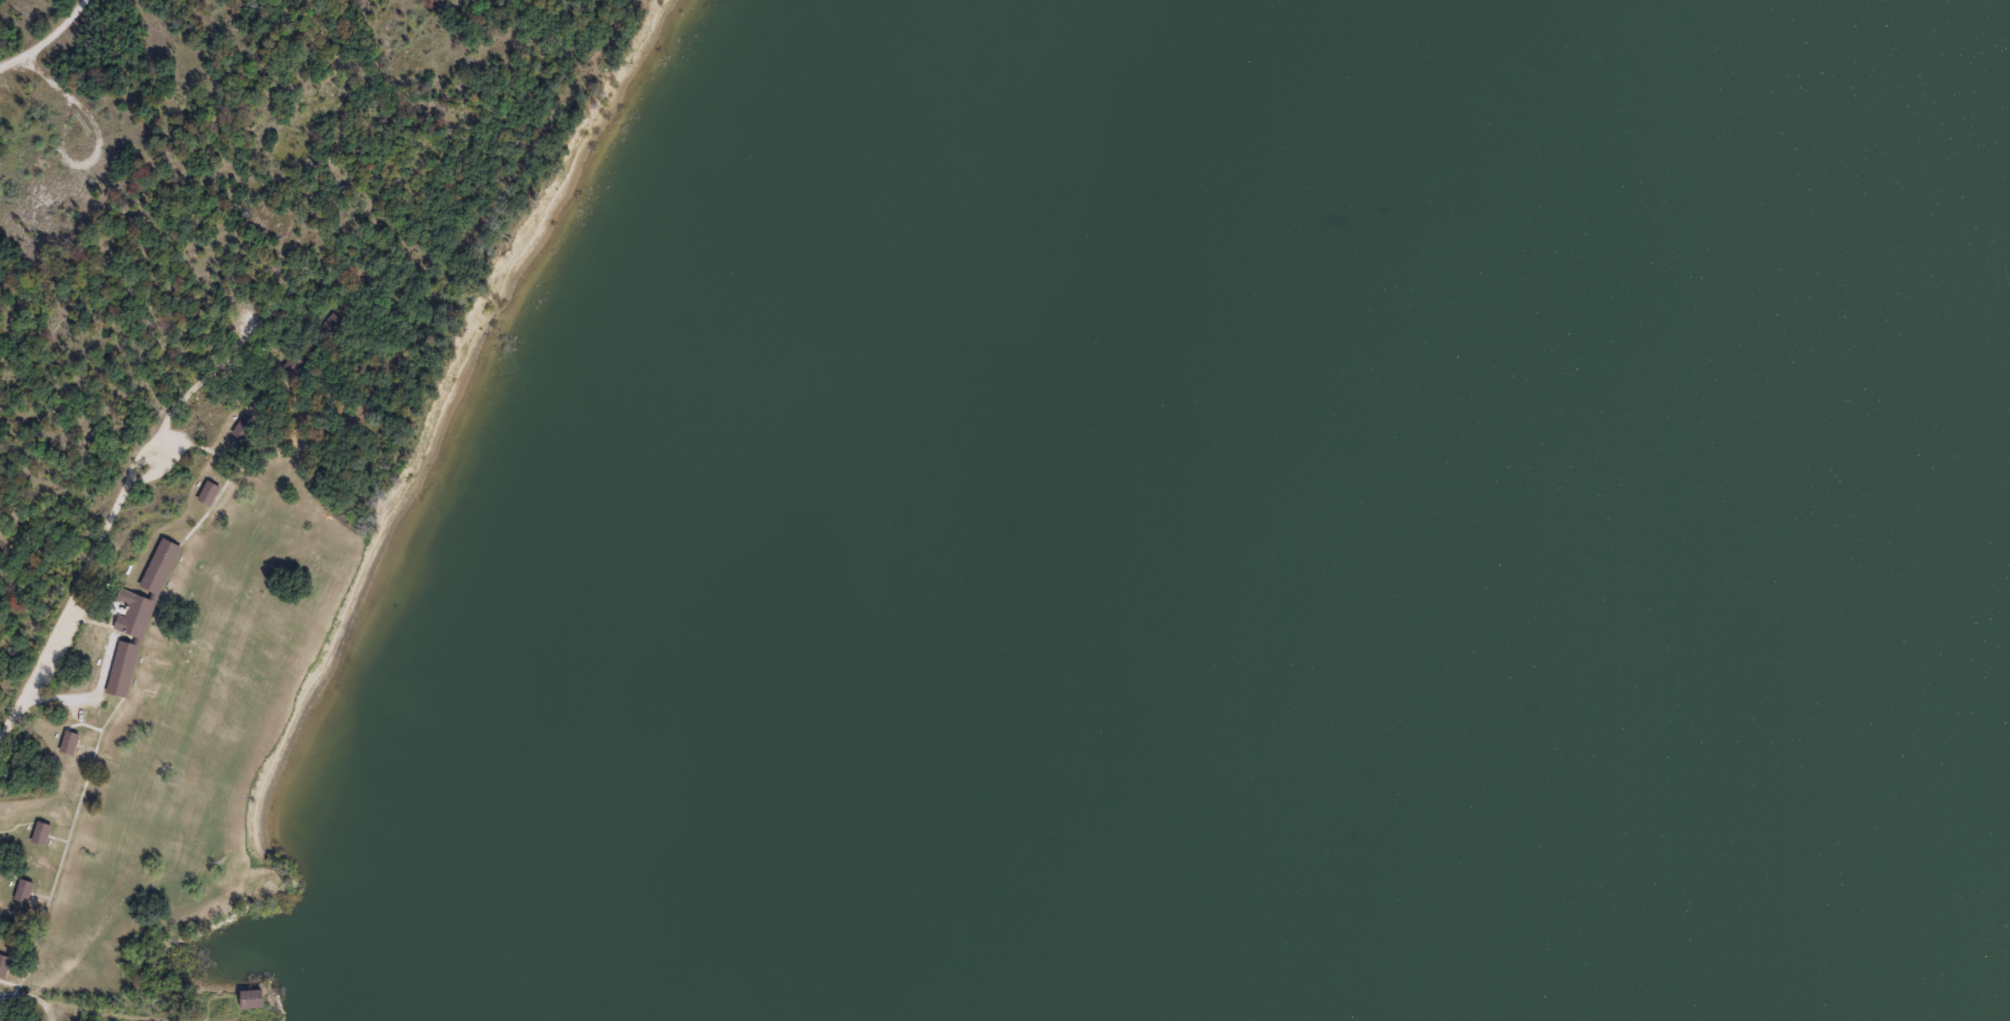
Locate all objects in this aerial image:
road: (47, 39)
building: (329, 326)
building: (290, 365)
building: (242, 429)
park: (312, 444)
building: (205, 493)
road: (112, 518)
building: (133, 623)
building: (66, 742)
building: (38, 833)
building: (20, 890)
building: (3, 964)
building: (248, 998)

